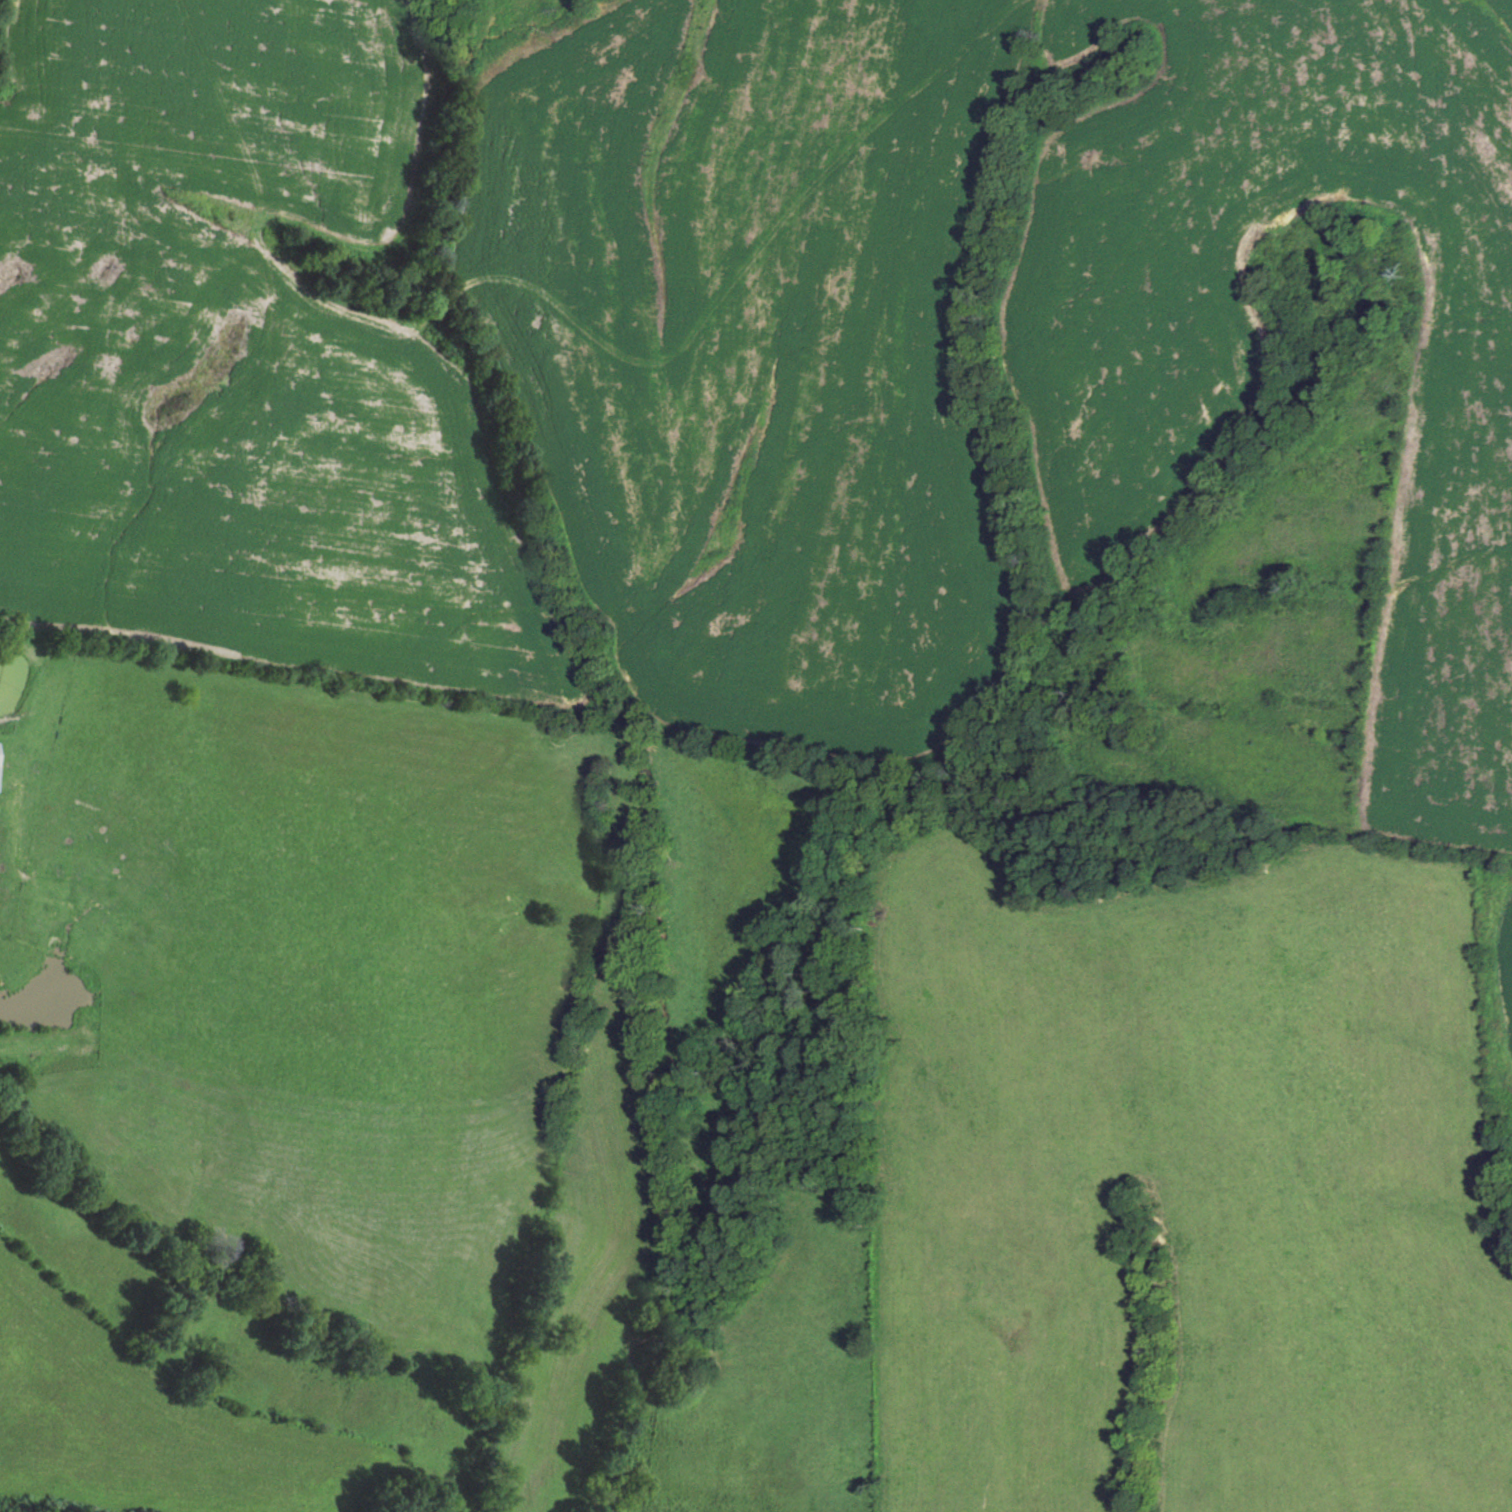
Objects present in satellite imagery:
building: (1, 763)

